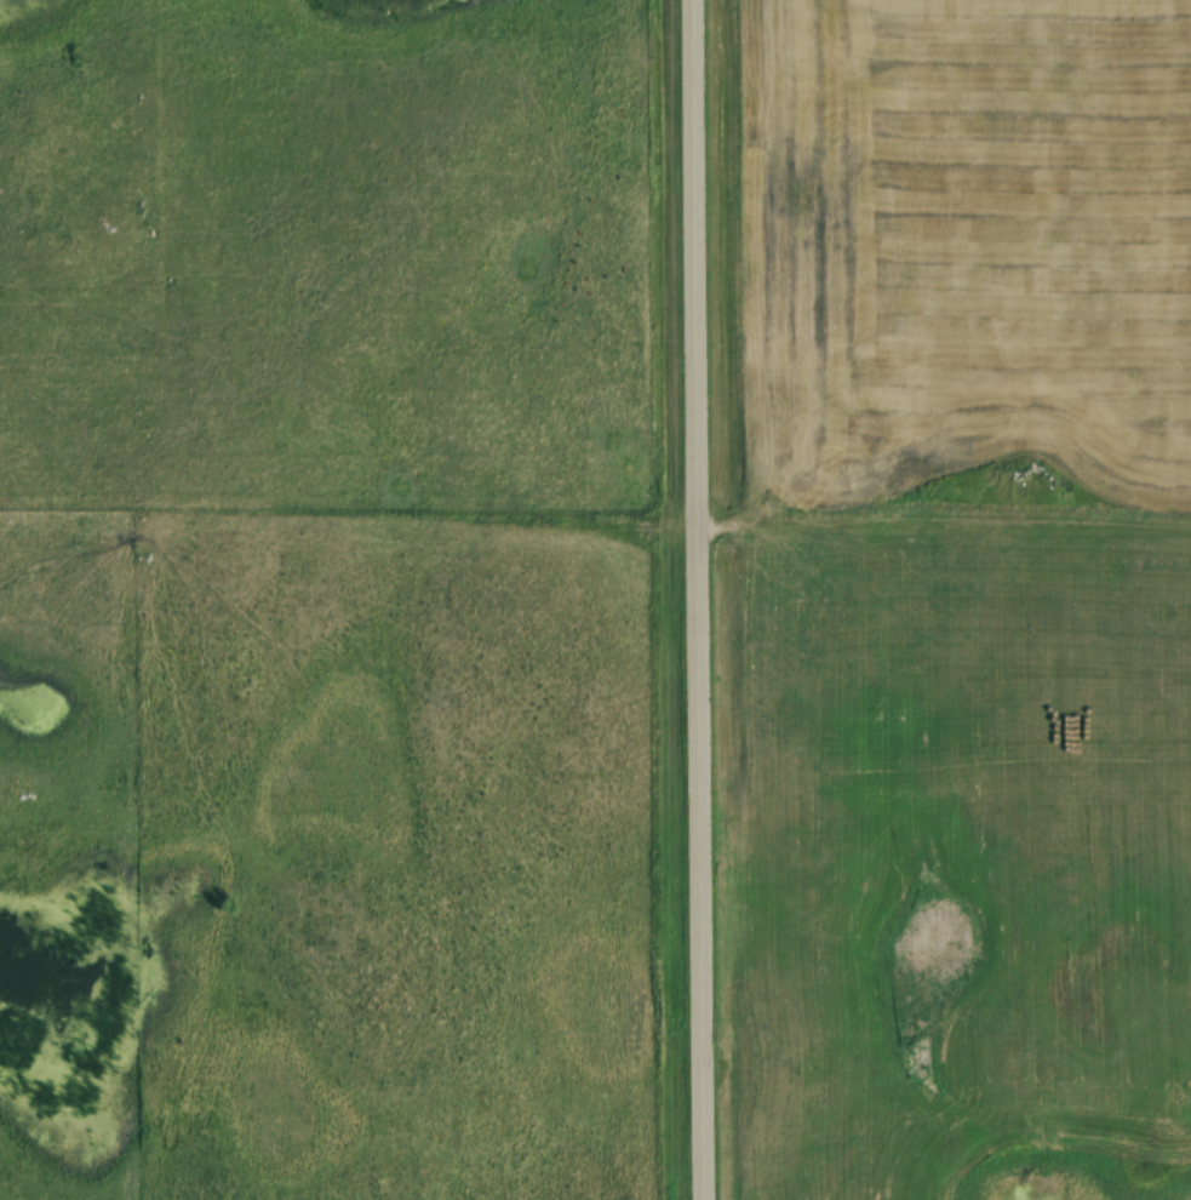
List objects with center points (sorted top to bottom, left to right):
road: (709, 600)

